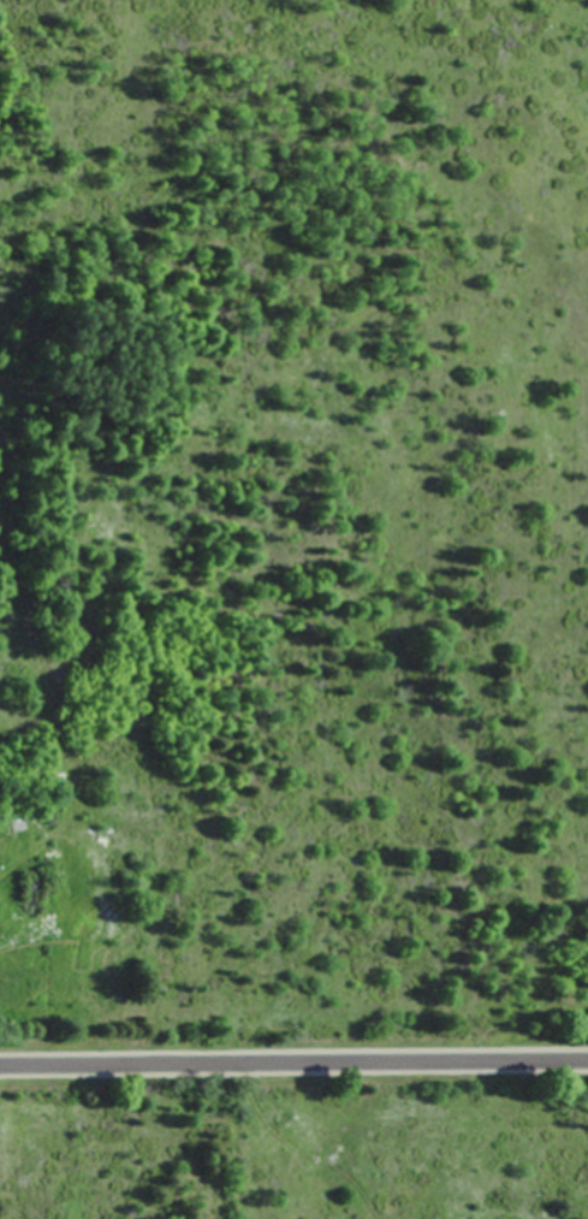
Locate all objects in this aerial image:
road: (293, 1064)

